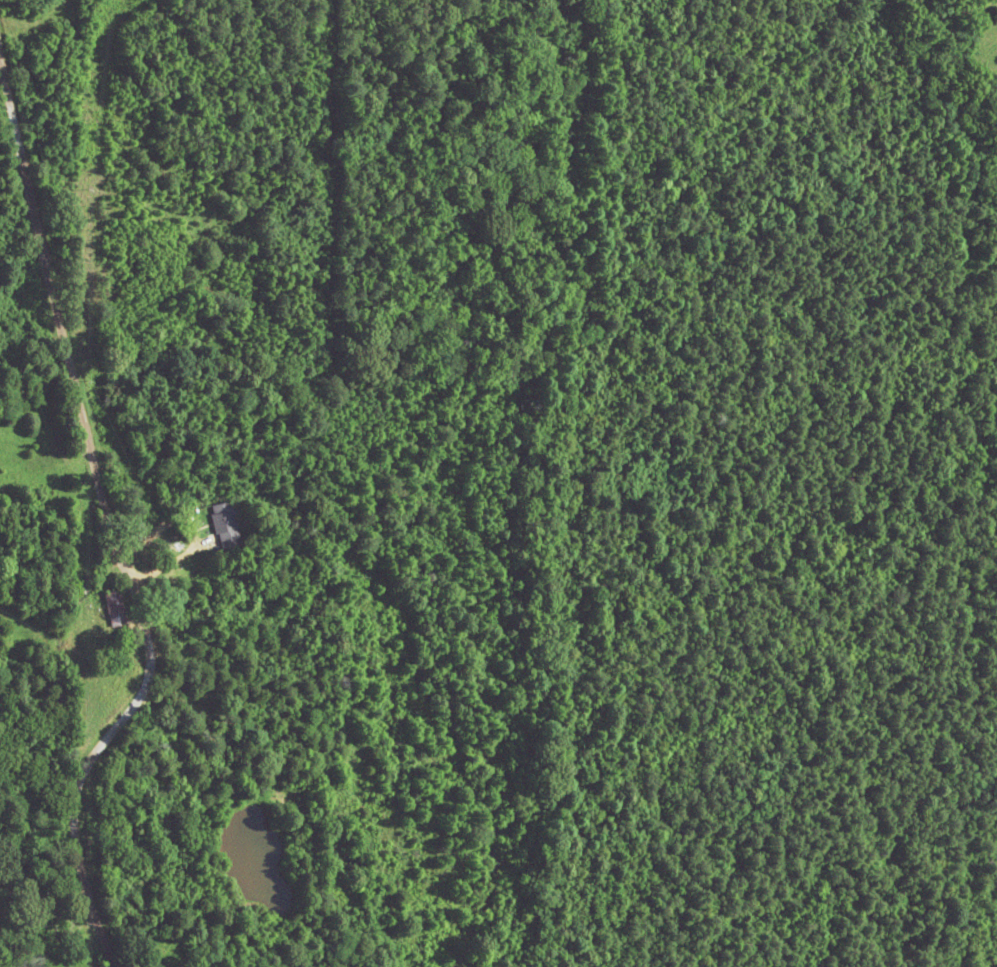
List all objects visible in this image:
building: (224, 529)
building: (113, 611)
road: (94, 628)
building: (29, 841)

